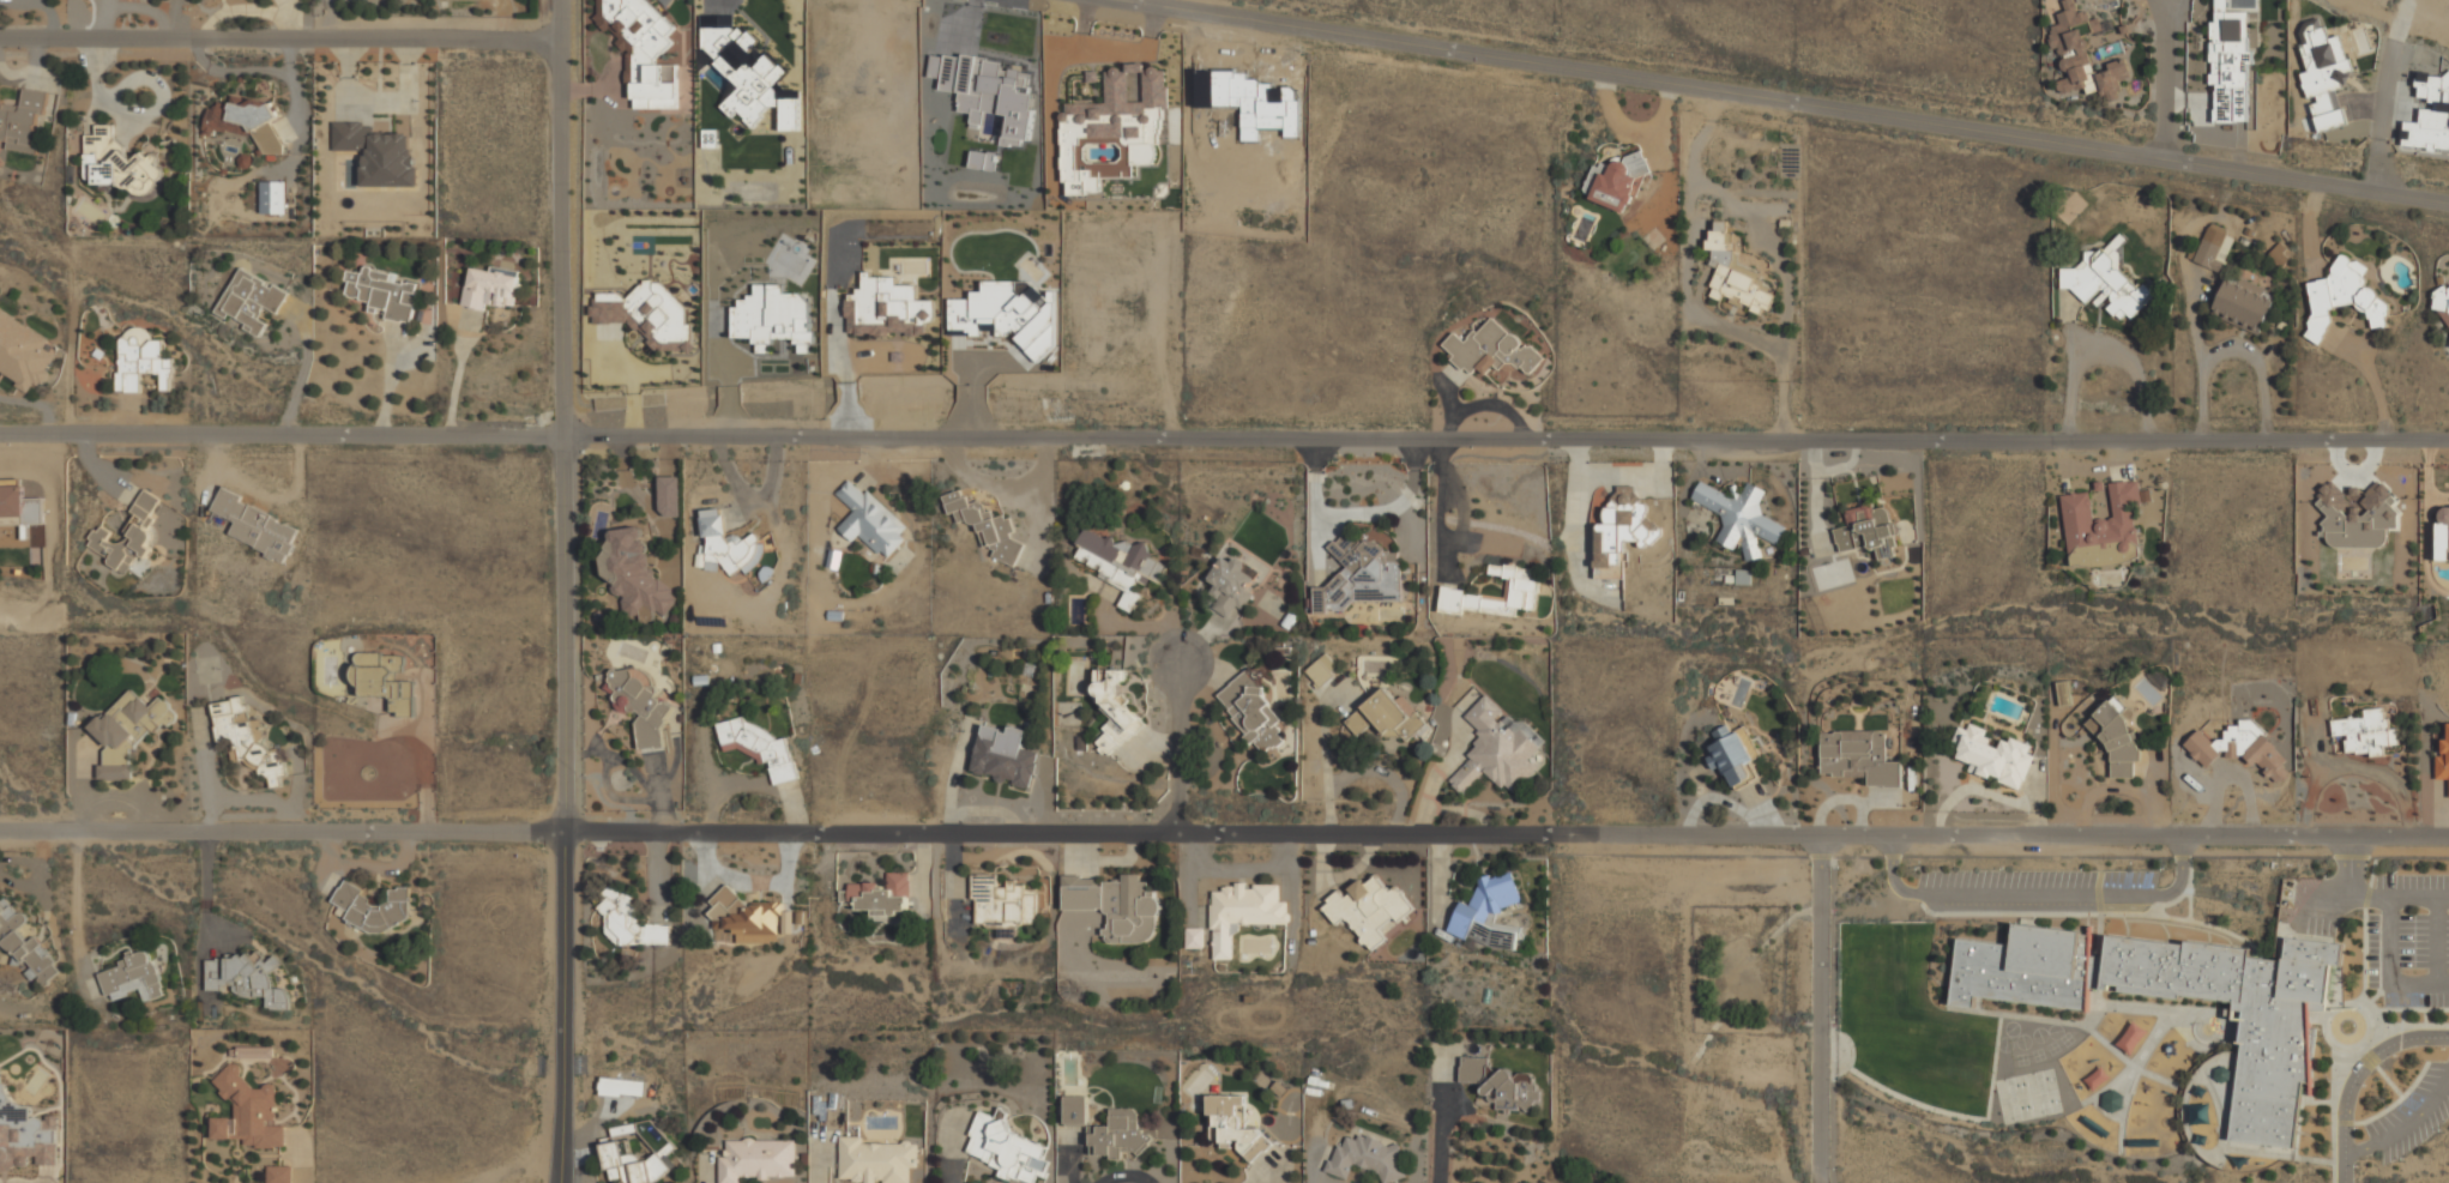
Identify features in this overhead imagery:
road: (279, 37)
building: (643, 49)
building: (2082, 58)
building: (2228, 64)
road: (2394, 67)
building: (743, 68)
road: (2168, 79)
road: (1786, 99)
building: (789, 114)
building: (24, 119)
building: (246, 122)
building: (1114, 128)
building: (379, 153)
building: (115, 163)
road: (2383, 167)
building: (1616, 180)
building: (273, 197)
building: (2214, 247)
building: (1733, 274)
building: (2106, 279)
building: (490, 285)
building: (384, 292)
building: (2342, 296)
building: (251, 300)
building: (2441, 302)
building: (2243, 304)
building: (887, 308)
building: (646, 314)
building: (1008, 314)
building: (773, 316)
road: (2195, 325)
road: (2232, 348)
building: (1491, 349)
road: (2105, 351)
building: (23, 352)
building: (141, 358)
road: (2375, 386)
road: (1224, 437)
building: (669, 496)
road: (1443, 509)
building: (1736, 509)
building: (2355, 509)
road: (1363, 517)
building: (2101, 517)
building: (868, 521)
building: (255, 525)
building: (987, 526)
building: (1621, 527)
building: (2444, 530)
building: (127, 535)
building: (1870, 536)
building: (725, 544)
building: (1117, 562)
building: (1358, 573)
building: (638, 580)
building: (1229, 583)
road: (563, 591)
building: (1498, 594)
building: (1322, 669)
building: (384, 680)
building: (2063, 693)
building: (641, 705)
building: (1114, 710)
building: (1251, 713)
building: (1388, 717)
building: (127, 731)
building: (2365, 731)
building: (2111, 734)
building: (246, 738)
building: (1501, 742)
building: (756, 746)
building: (2238, 746)
road: (1177, 748)
building: (1990, 754)
building: (1858, 755)
road: (424, 756)
building: (1005, 756)
building: (1738, 758)
building: (2443, 761)
road: (1224, 832)
road: (2351, 865)
parking lot: (2035, 889)
road: (2039, 893)
building: (877, 895)
road: (2344, 895)
road: (2419, 897)
building: (1002, 903)
building: (374, 906)
building: (1115, 906)
building: (1369, 909)
building: (1488, 910)
building: (743, 912)
building: (1241, 913)
building: (631, 921)
parking lot: (2387, 930)
building: (1194, 937)
road: (2437, 942)
building: (24, 944)
road: (2390, 970)
building: (133, 977)
building: (247, 978)
building: (2155, 995)
road: (1820, 1009)
building: (2133, 1037)
building: (258, 1051)
road: (2355, 1076)
building: (2098, 1078)
building: (1500, 1084)
building: (622, 1086)
building: (2111, 1100)
building: (1075, 1109)
parking lot: (2412, 1110)
building: (248, 1112)
building: (1237, 1124)
road: (2406, 1127)
building: (24, 1134)
building: (1120, 1134)
building: (1006, 1148)
building: (632, 1158)
building: (1368, 1158)
building: (756, 1159)
building: (876, 1160)
building: (279, 1173)

